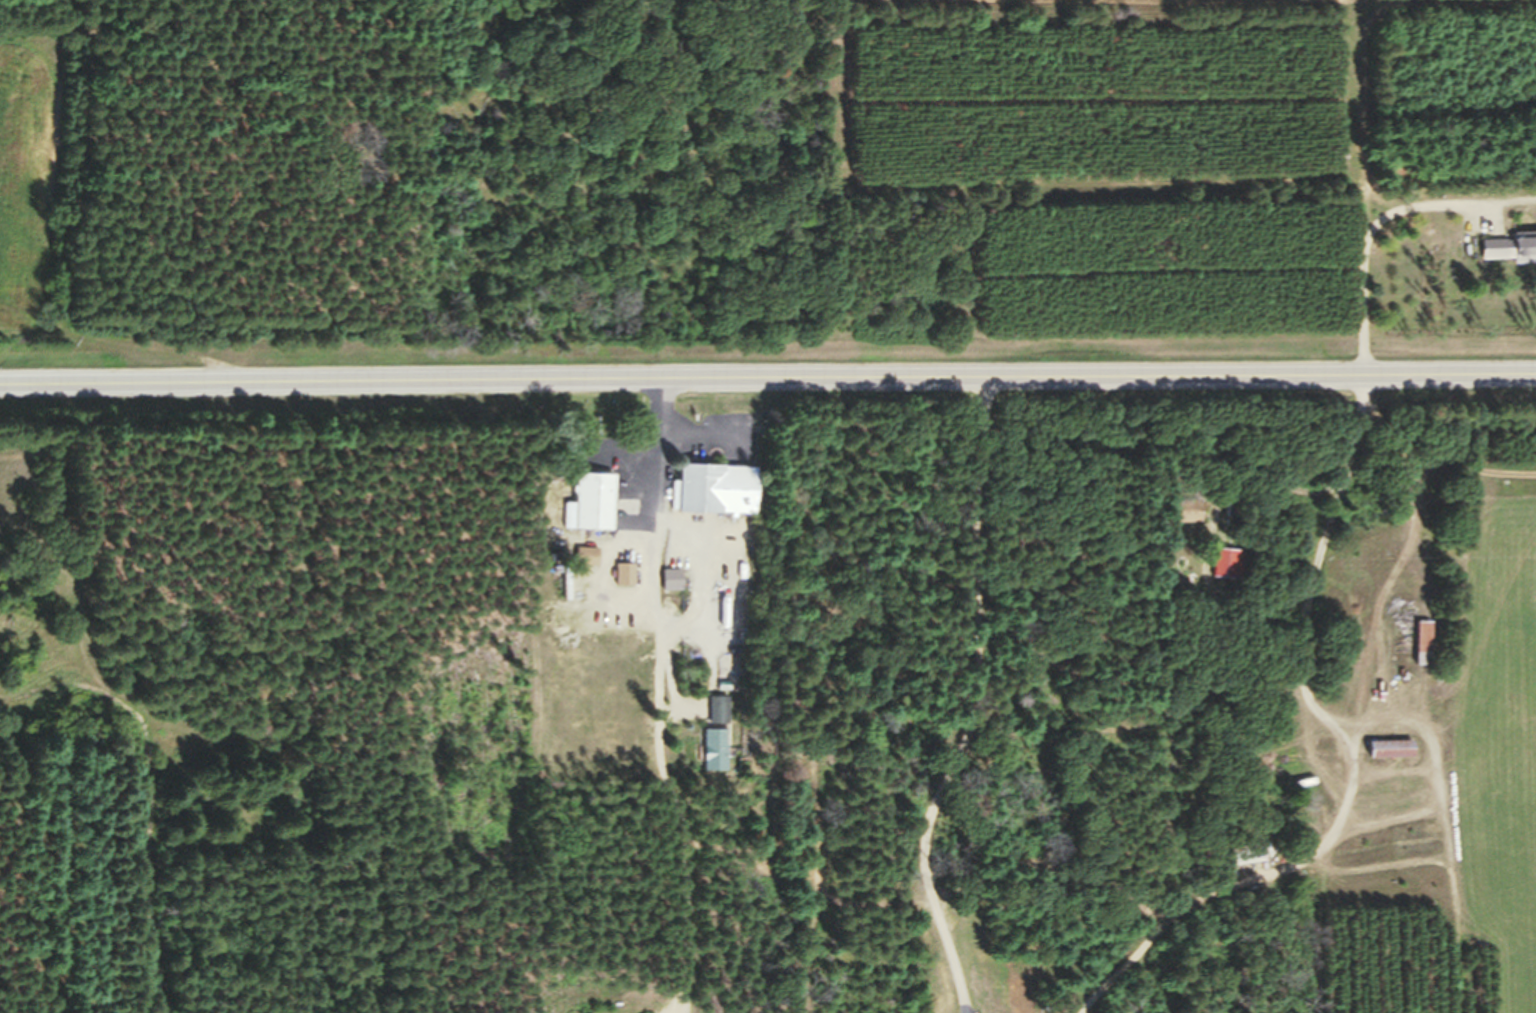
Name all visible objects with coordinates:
building: (1508, 256)
road: (768, 389)
building: (716, 496)
building: (592, 509)
building: (1185, 517)
road: (656, 548)
building: (1227, 570)
building: (671, 586)
building: (1422, 649)
building: (1388, 757)
building: (1250, 862)

